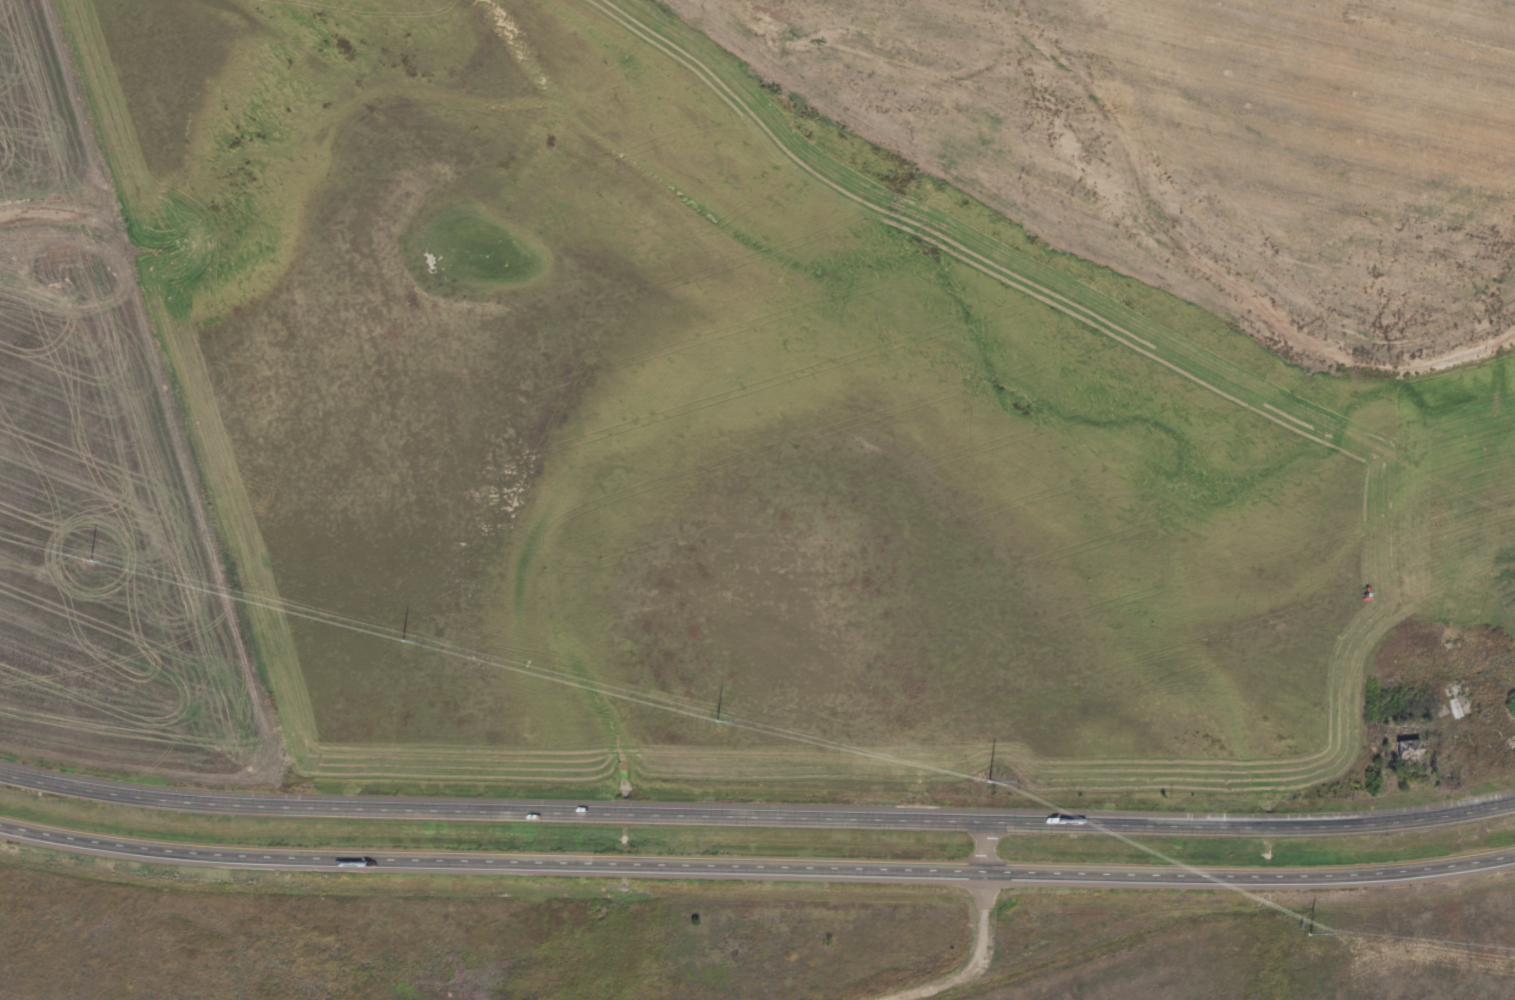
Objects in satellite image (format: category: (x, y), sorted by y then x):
power tower: (93, 565)
power tower: (407, 645)
power tower: (721, 724)
building: (1410, 754)
power tower: (991, 795)
road: (757, 818)
road: (757, 874)
power tower: (1307, 923)
road: (979, 942)

